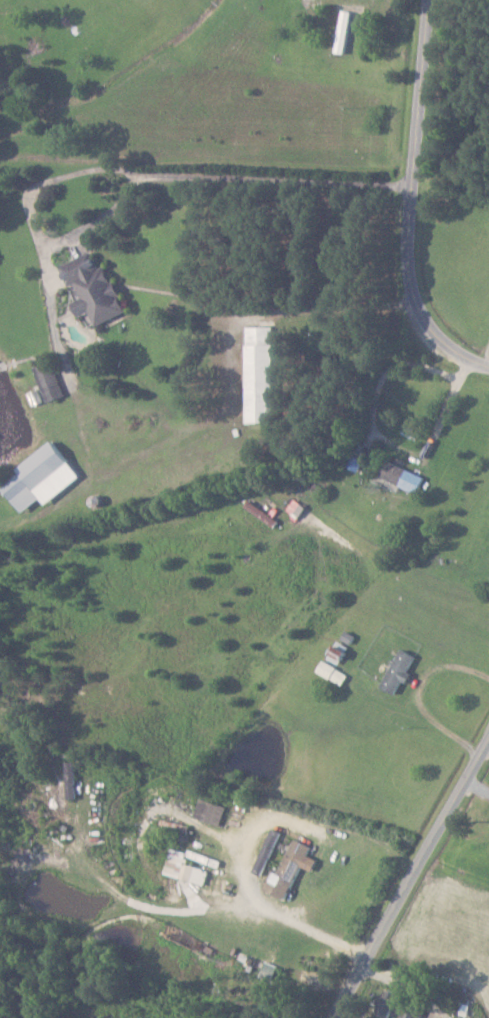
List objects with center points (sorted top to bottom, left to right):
building: (346, 31)
road: (145, 173)
road: (419, 196)
building: (97, 290)
building: (264, 374)
building: (52, 381)
road: (379, 392)
road: (448, 404)
building: (46, 475)
building: (405, 475)
building: (298, 508)
building: (264, 512)
building: (402, 670)
building: (334, 672)
road: (419, 697)
building: (74, 779)
road: (479, 786)
building: (212, 810)
building: (187, 867)
building: (294, 868)
road: (415, 883)
road: (283, 916)
building: (399, 1004)

